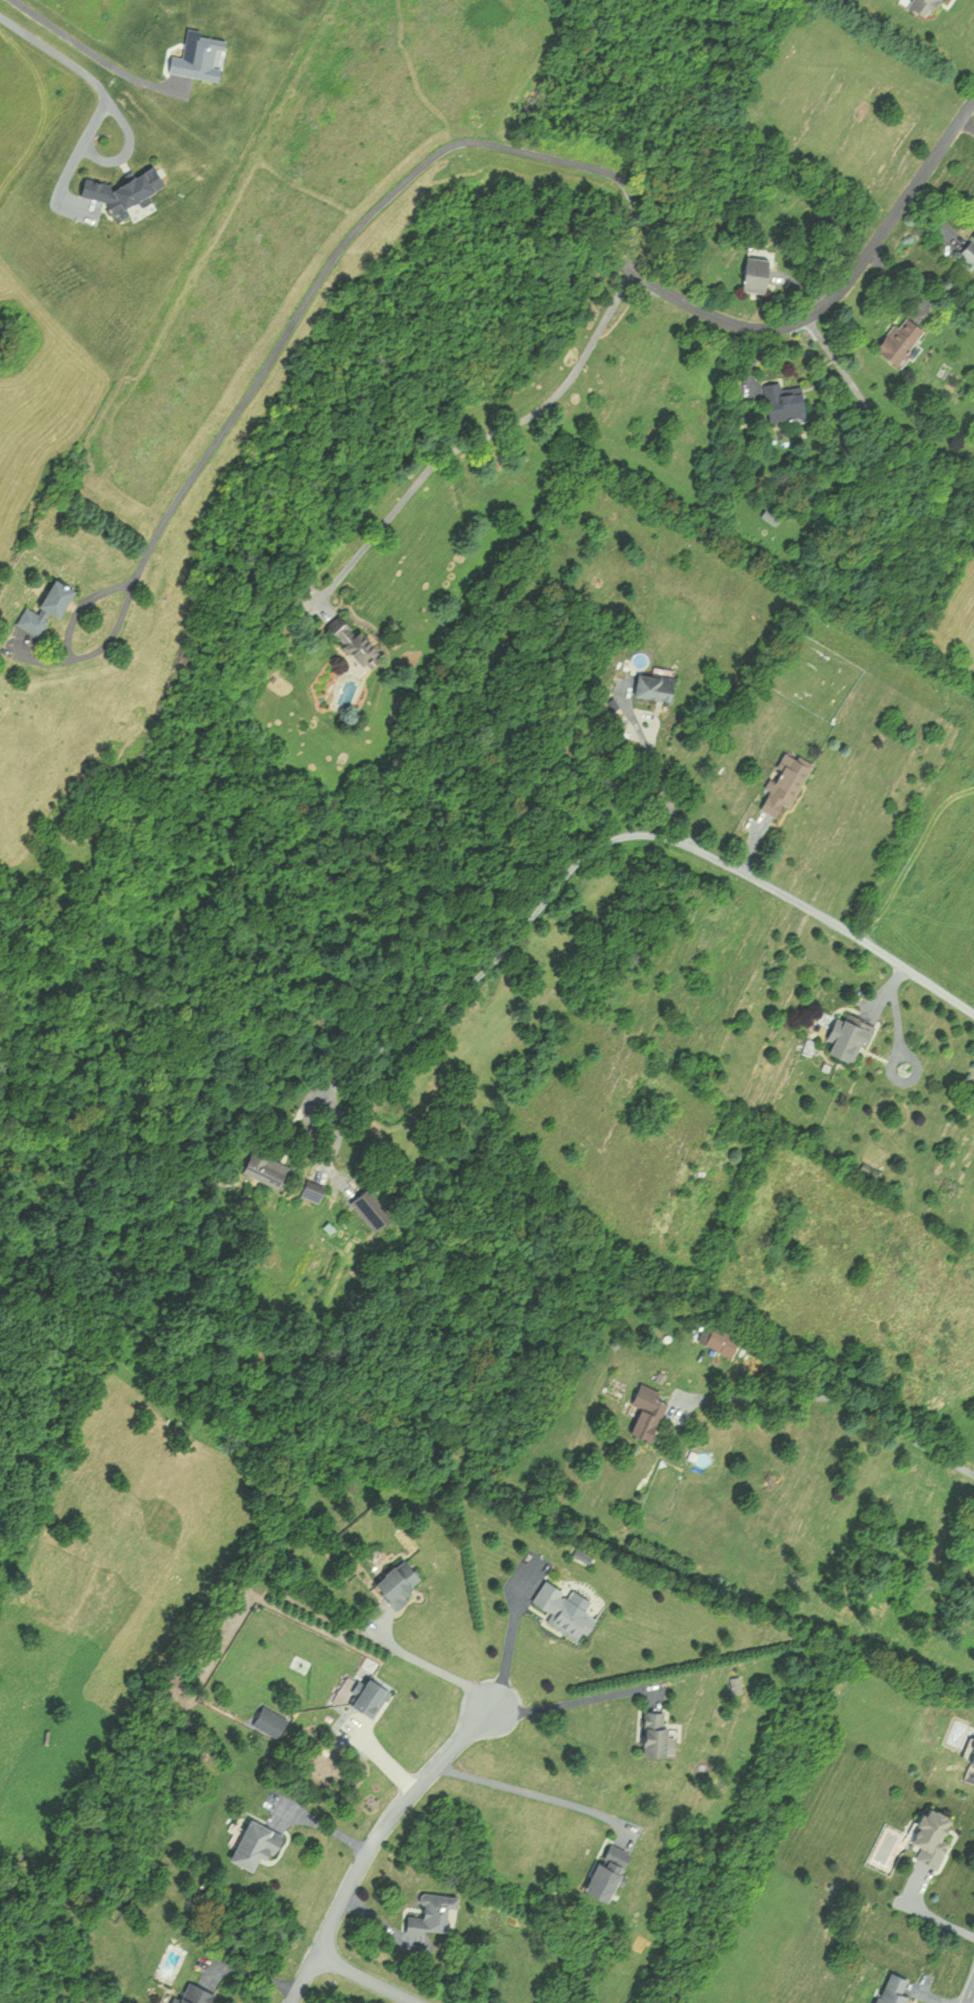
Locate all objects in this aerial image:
building: (925, 7)
road: (101, 104)
road: (967, 124)
road: (122, 147)
building: (967, 248)
building: (755, 271)
road: (840, 289)
road: (287, 328)
building: (897, 340)
building: (779, 400)
road: (485, 435)
building: (42, 607)
building: (351, 641)
building: (650, 684)
road: (659, 775)
building: (782, 781)
road: (632, 833)
building: (844, 1037)
building: (263, 1166)
building: (311, 1190)
building: (711, 1335)
road: (841, 1398)
building: (645, 1413)
building: (394, 1582)
building: (559, 1610)
road: (510, 1640)
road: (437, 1668)
building: (368, 1697)
road: (564, 1703)
building: (652, 1732)
building: (971, 1742)
road: (528, 1793)
road: (322, 1827)
building: (929, 1829)
building: (259, 1842)
road: (373, 1843)
building: (606, 1870)
building: (431, 1913)
road: (930, 1914)
road: (369, 1977)
building: (890, 1988)
road: (970, 1993)
building: (199, 1994)

